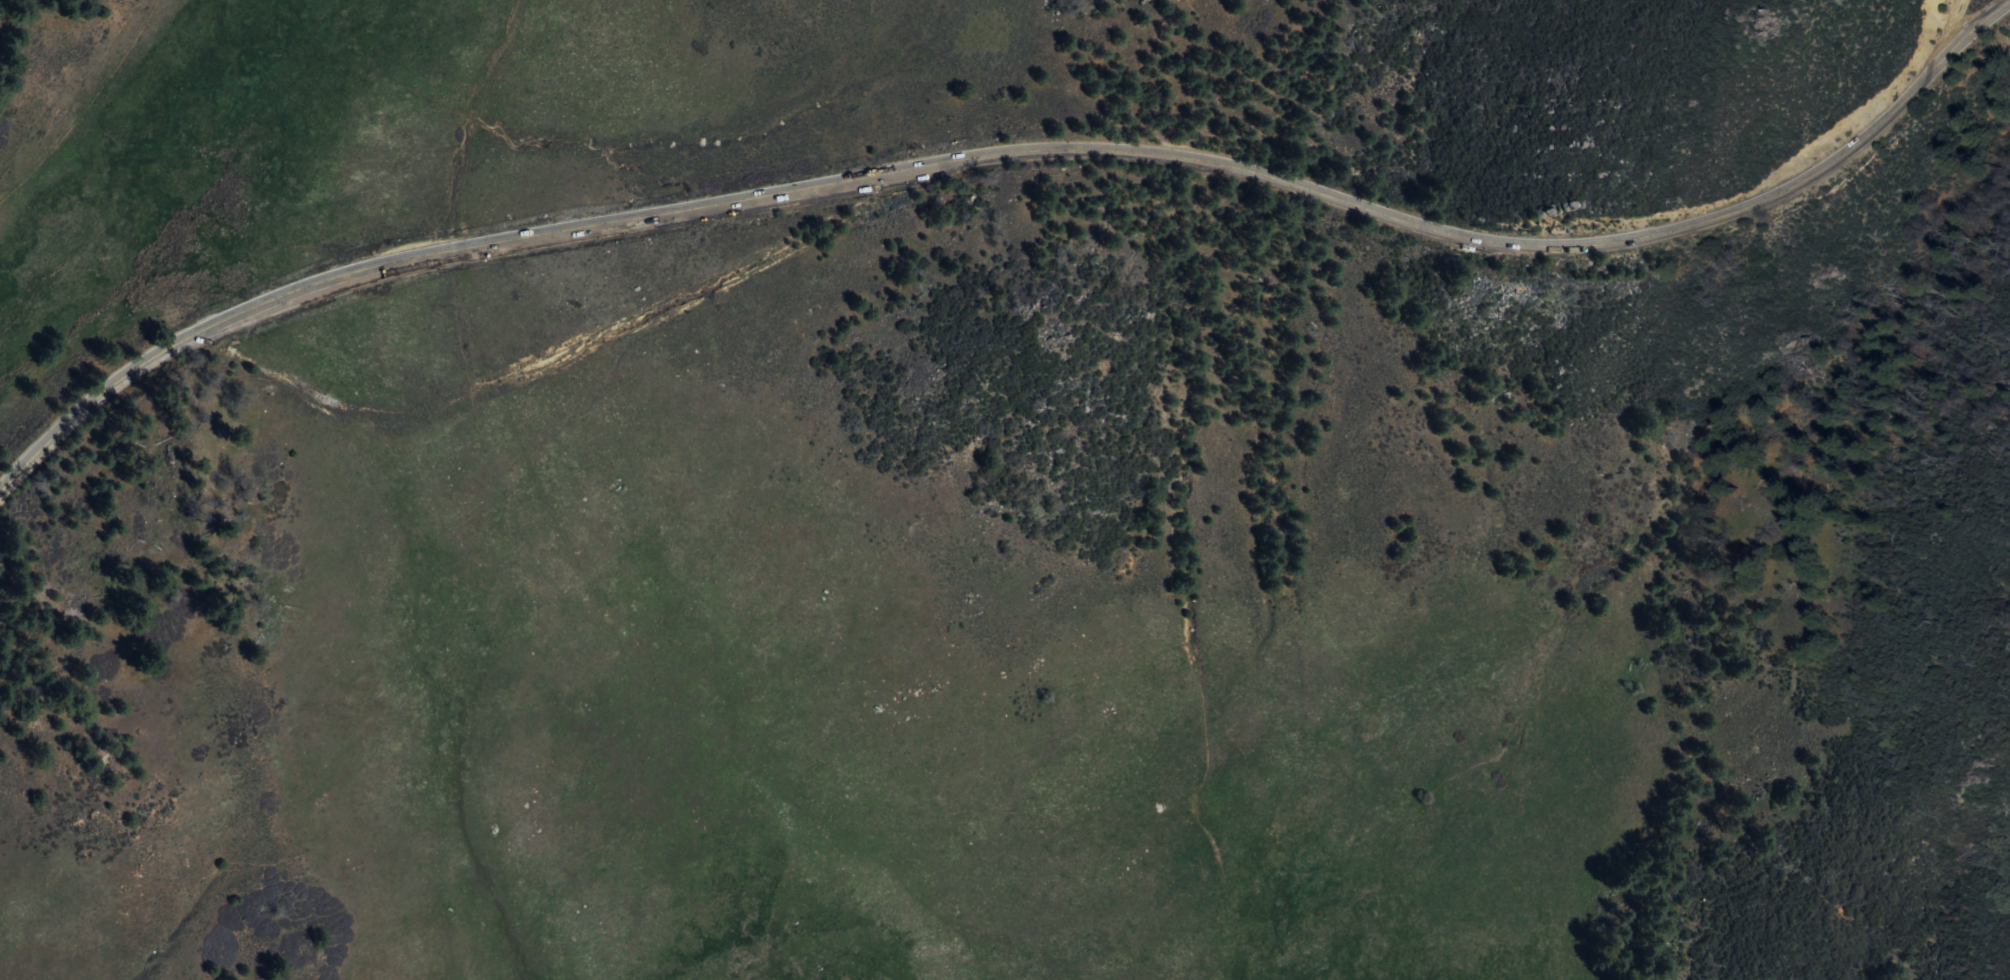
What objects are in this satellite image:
road: (1954, 28)
road: (1009, 156)

